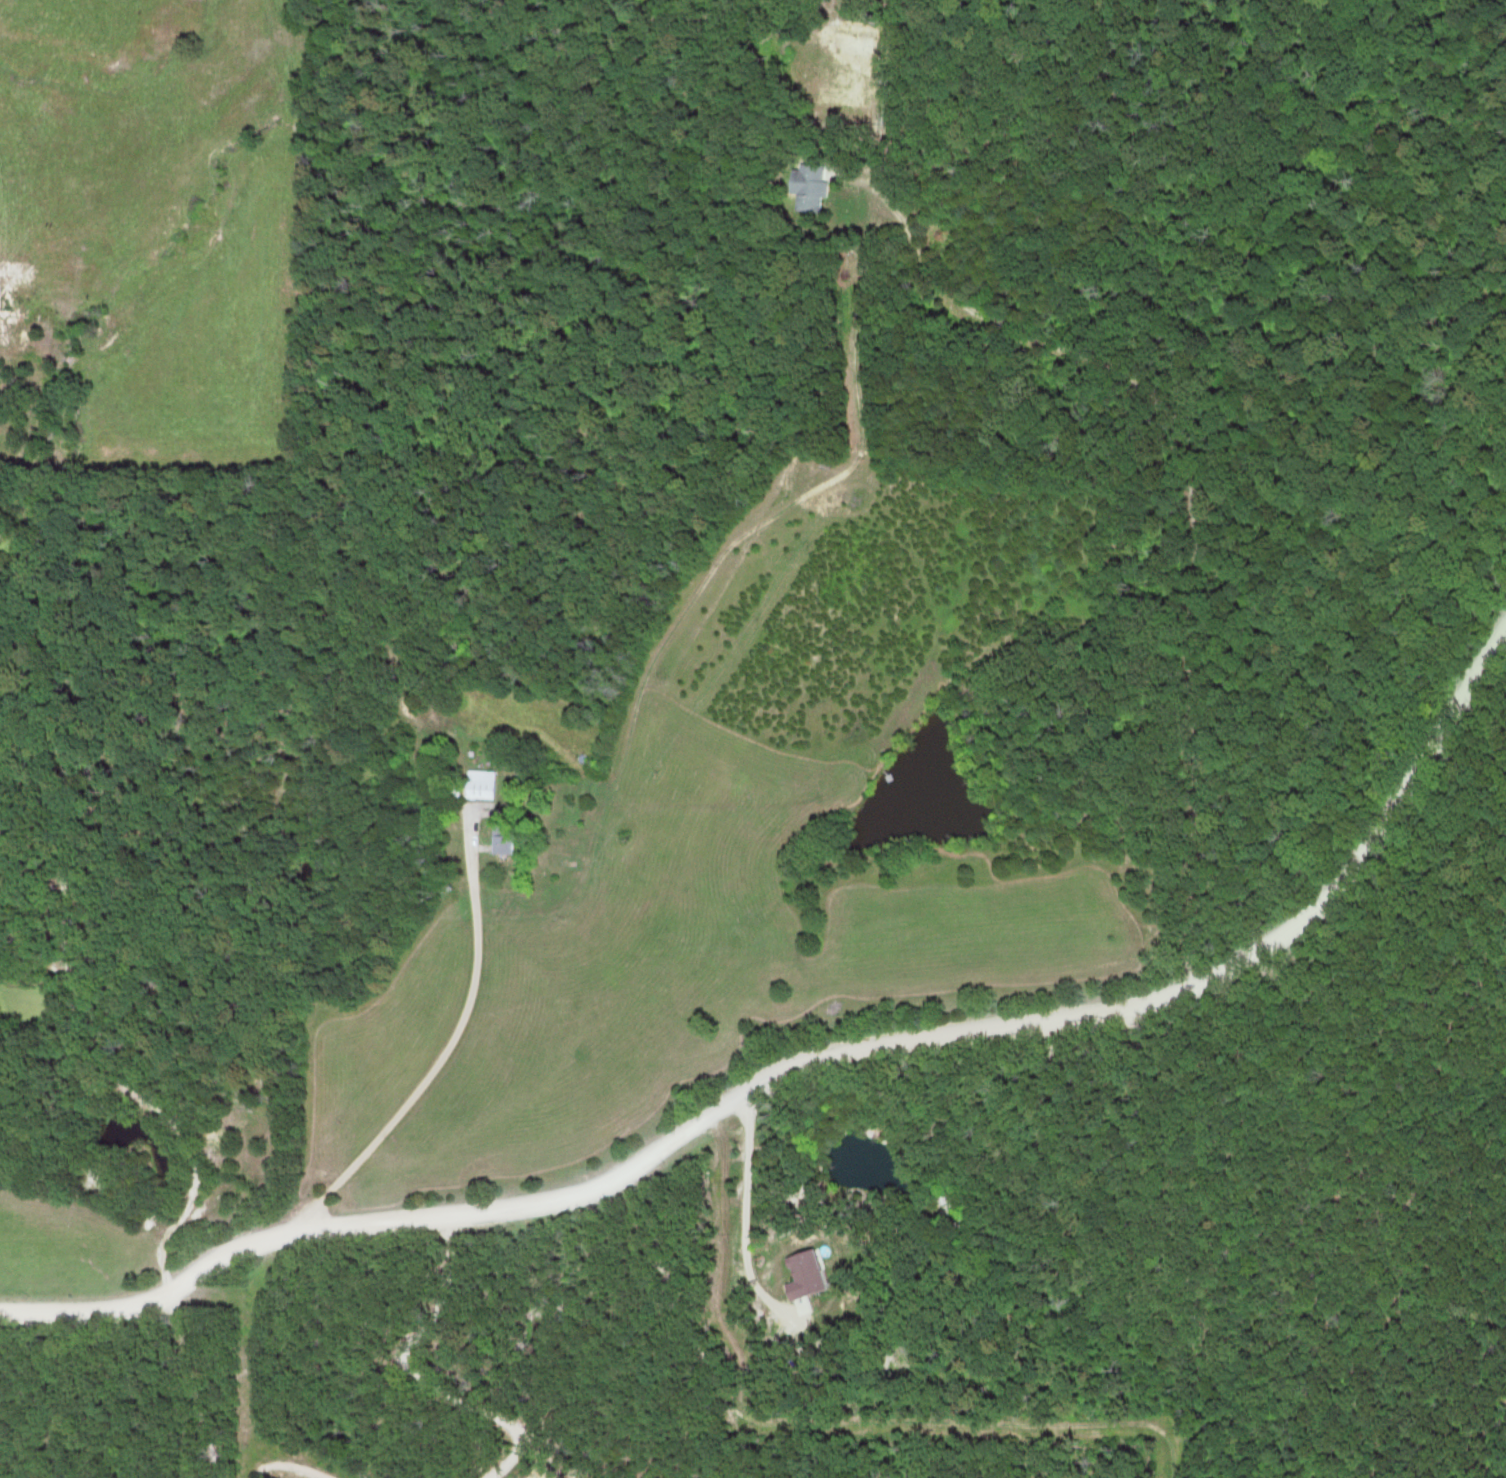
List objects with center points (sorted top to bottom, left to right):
building: (810, 188)
building: (482, 785)
building: (505, 838)
road: (1355, 859)
road: (453, 1043)
road: (602, 1185)
road: (195, 1208)
road: (738, 1222)

